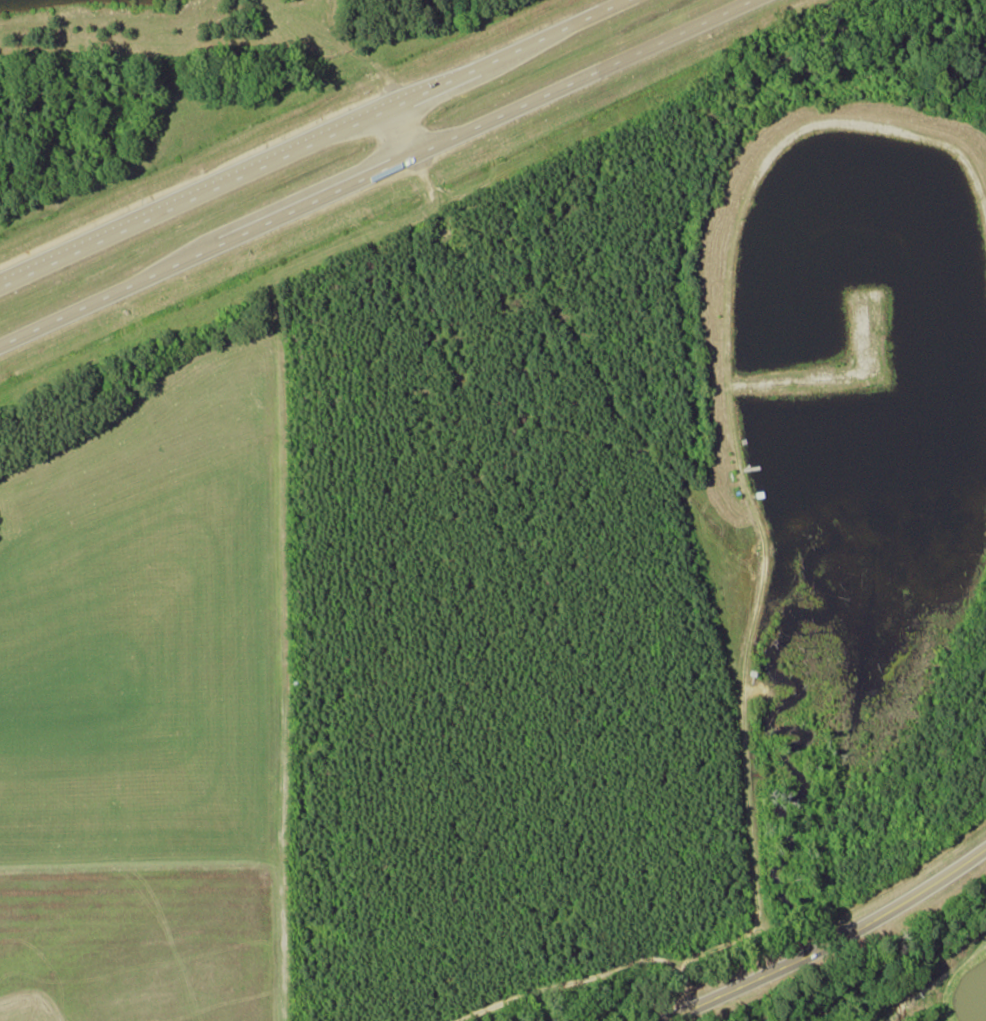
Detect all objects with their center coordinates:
road: (509, 53)
road: (581, 77)
road: (404, 130)
road: (197, 196)
road: (283, 213)
road: (76, 309)
road: (839, 935)
road: (675, 1014)
road: (663, 1019)

